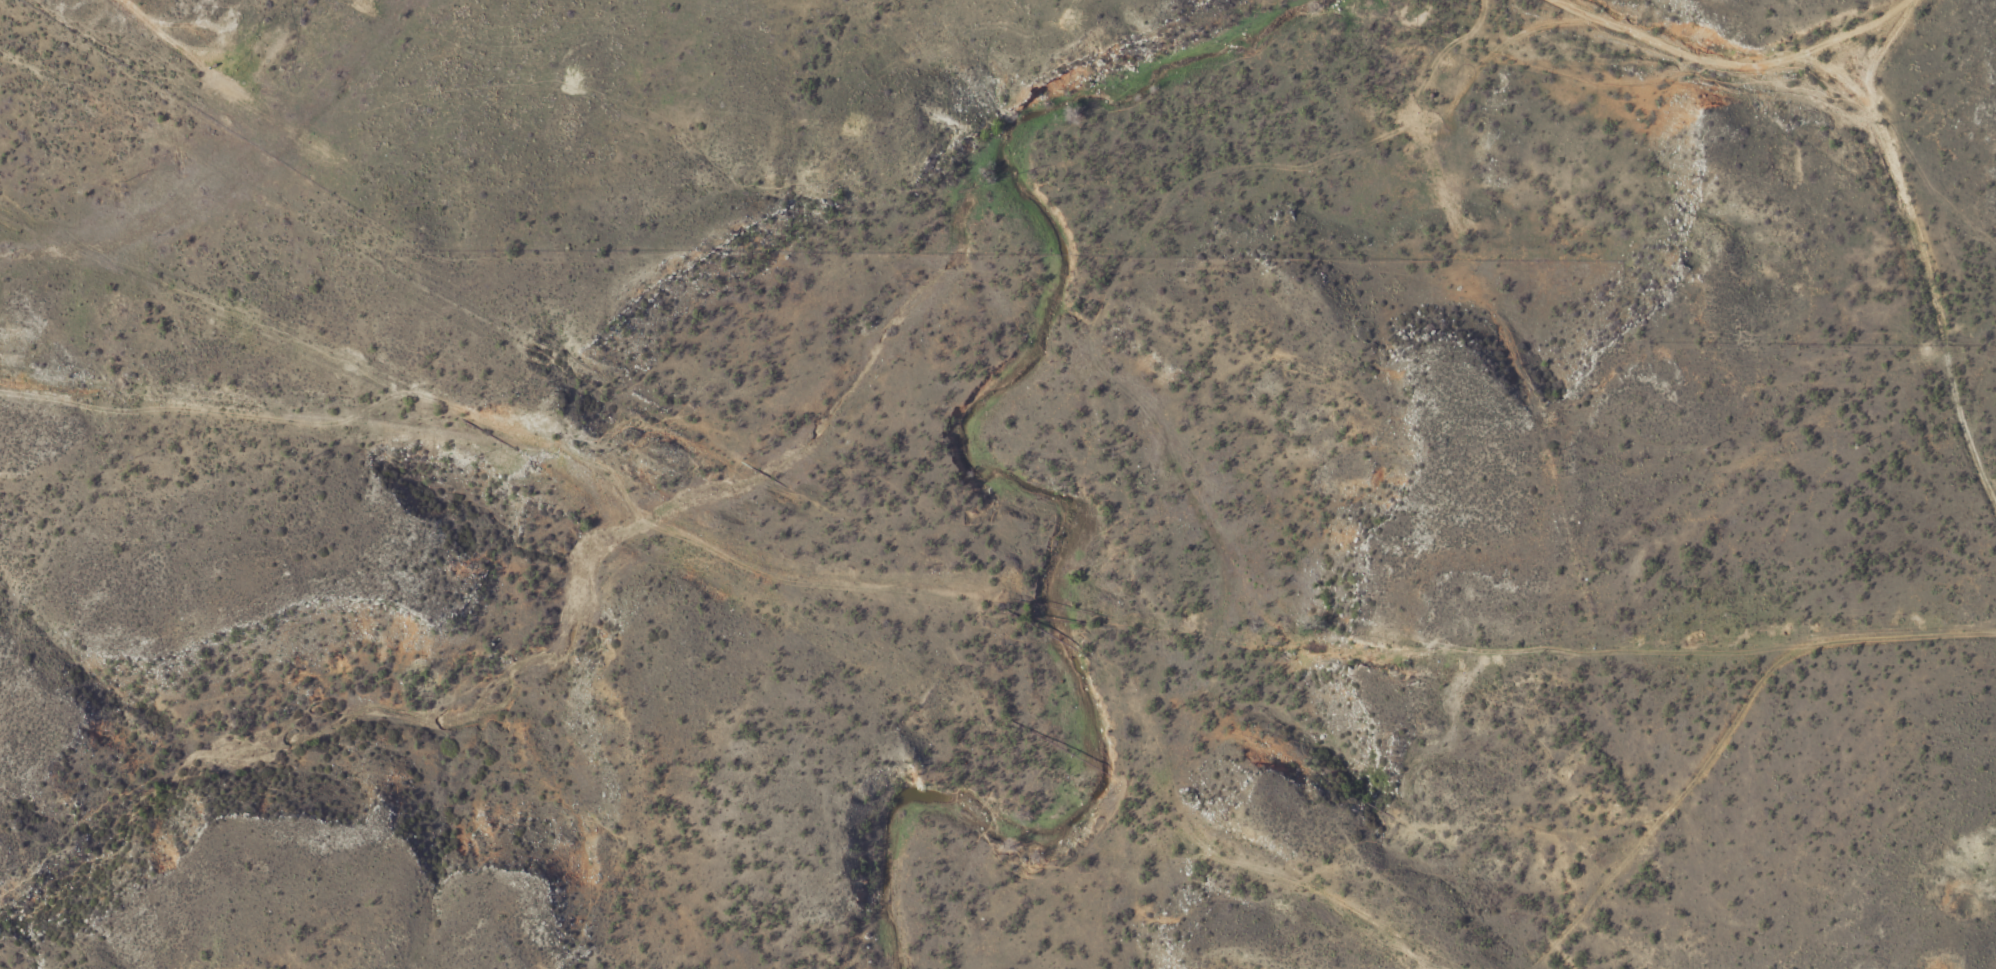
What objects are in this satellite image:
road: (1903, 248)

